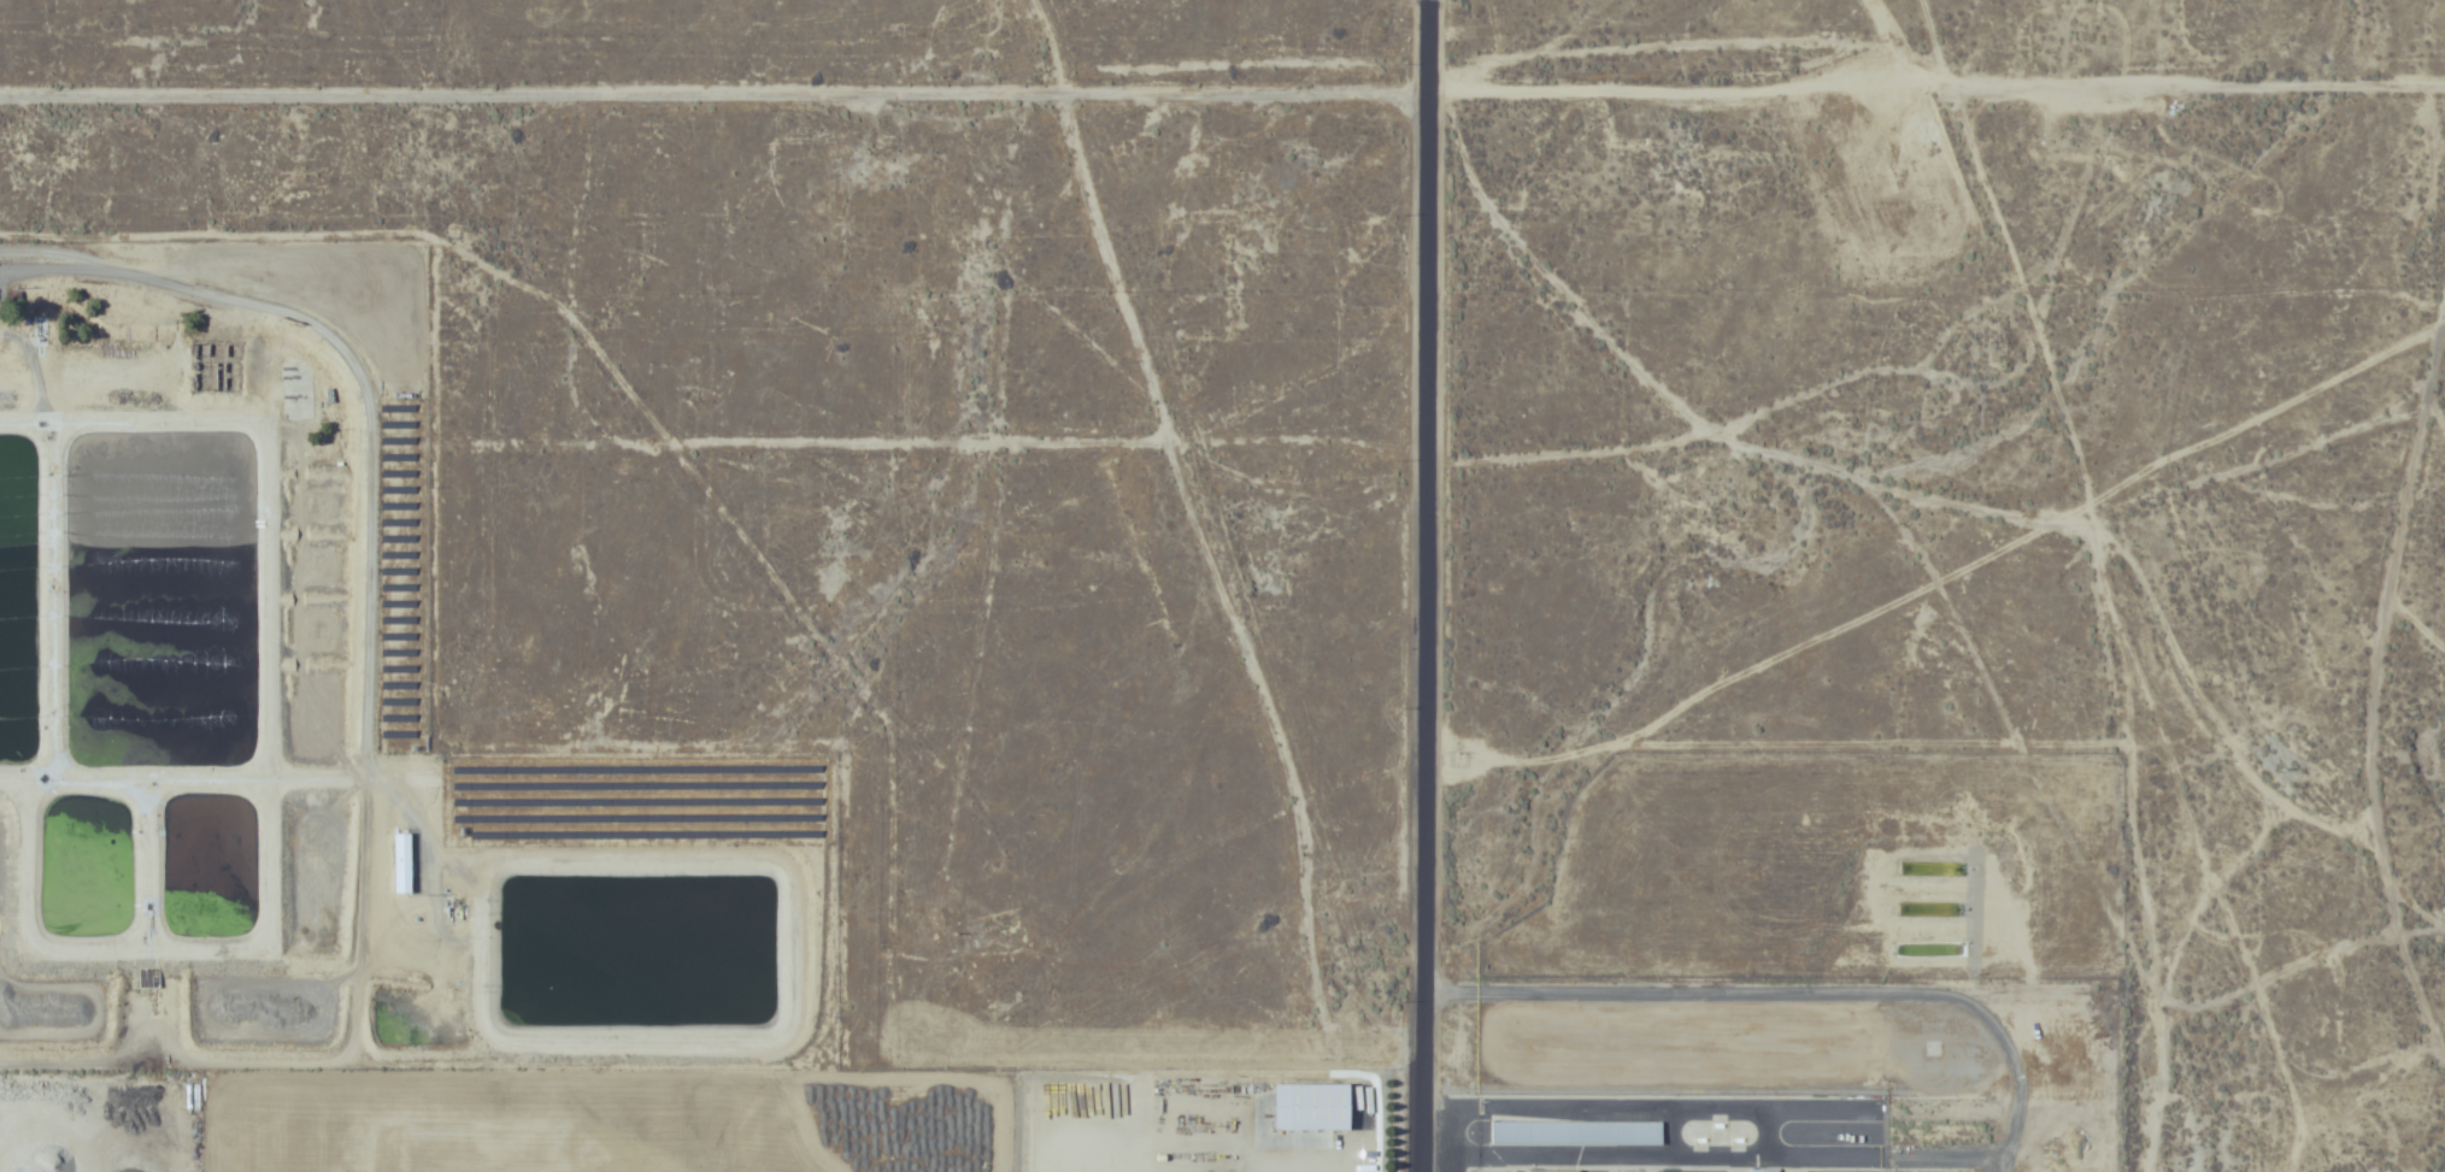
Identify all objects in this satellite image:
road: (1382, 76)
road: (1415, 585)
wastewater plant: (323, 717)
road: (1786, 994)
road: (1716, 1106)
building: (1305, 1108)
building: (1574, 1133)
building: (1548, 1171)

